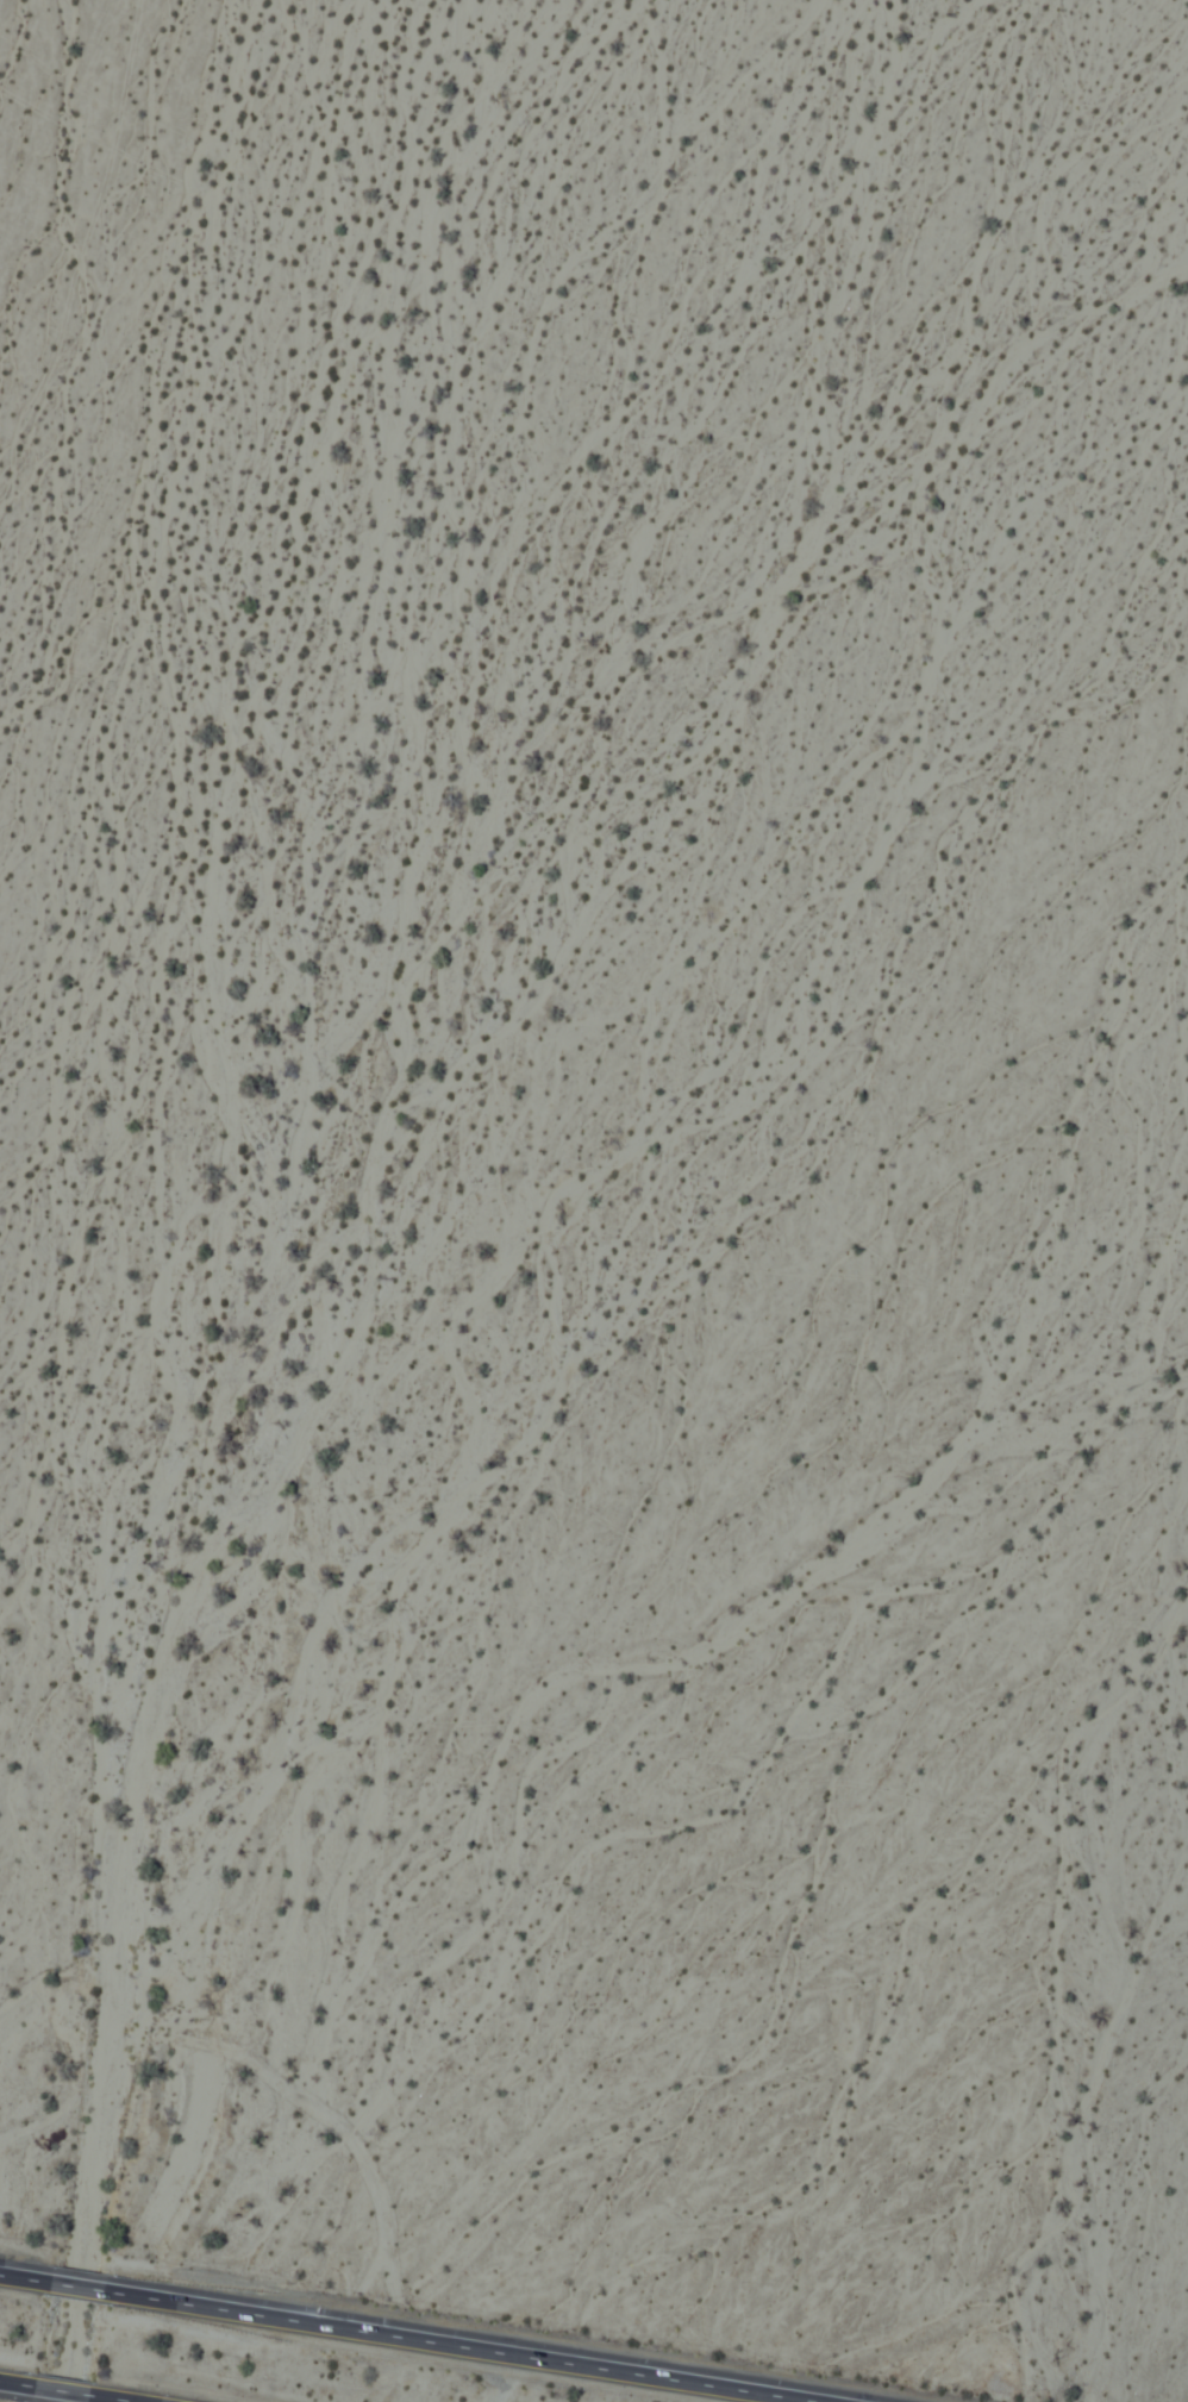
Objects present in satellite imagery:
road: (429, 2335)
road: (49, 2394)

